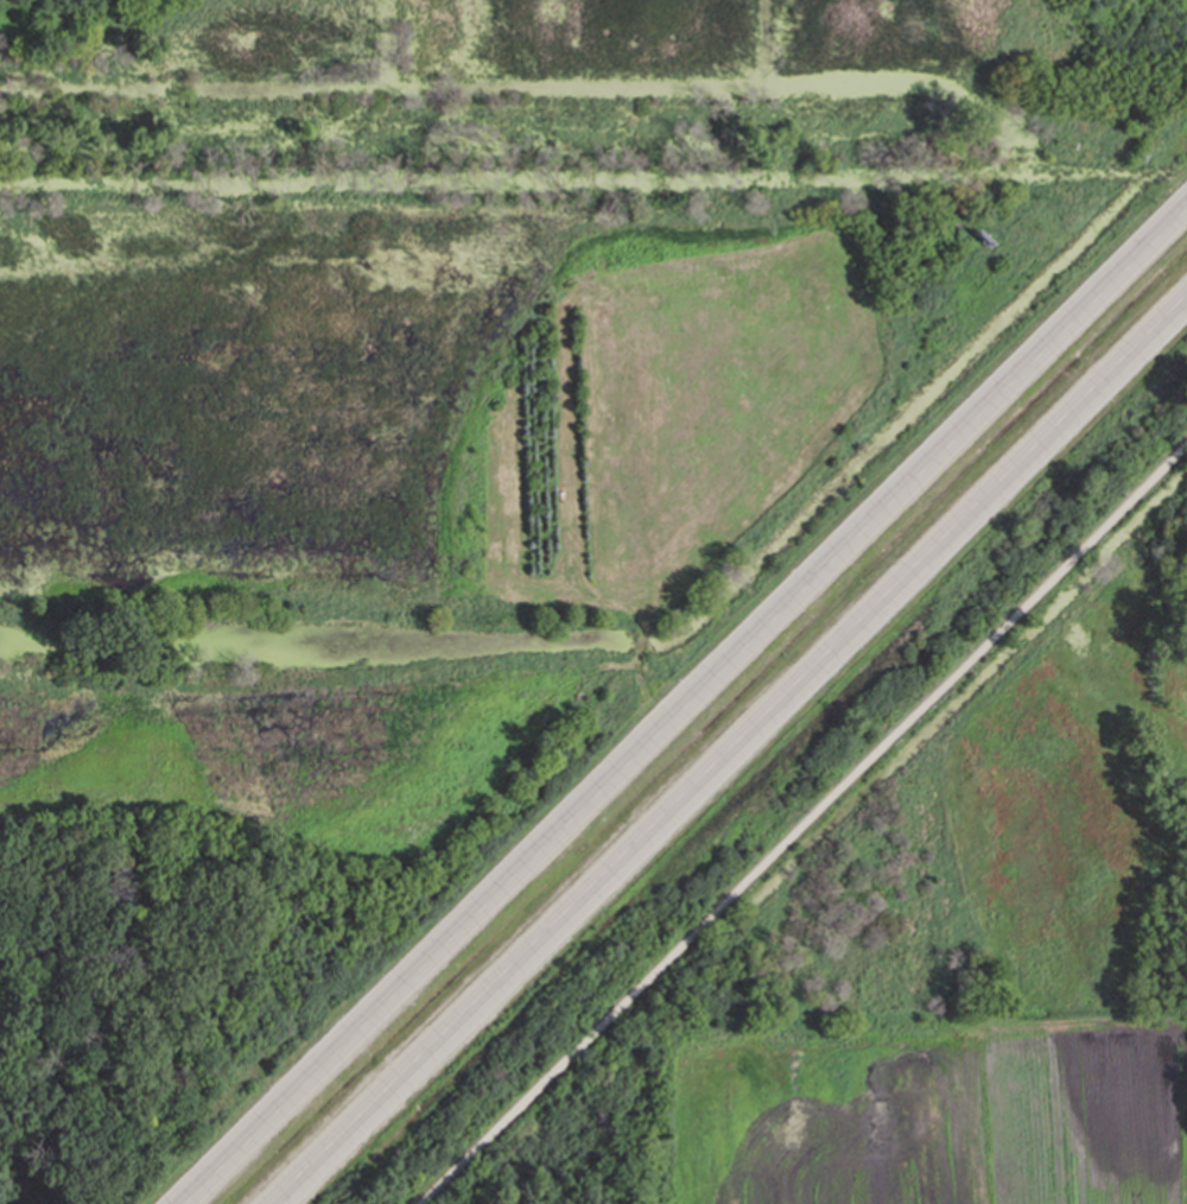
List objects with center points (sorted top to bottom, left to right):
road: (699, 714)
road: (744, 758)
road: (804, 823)

